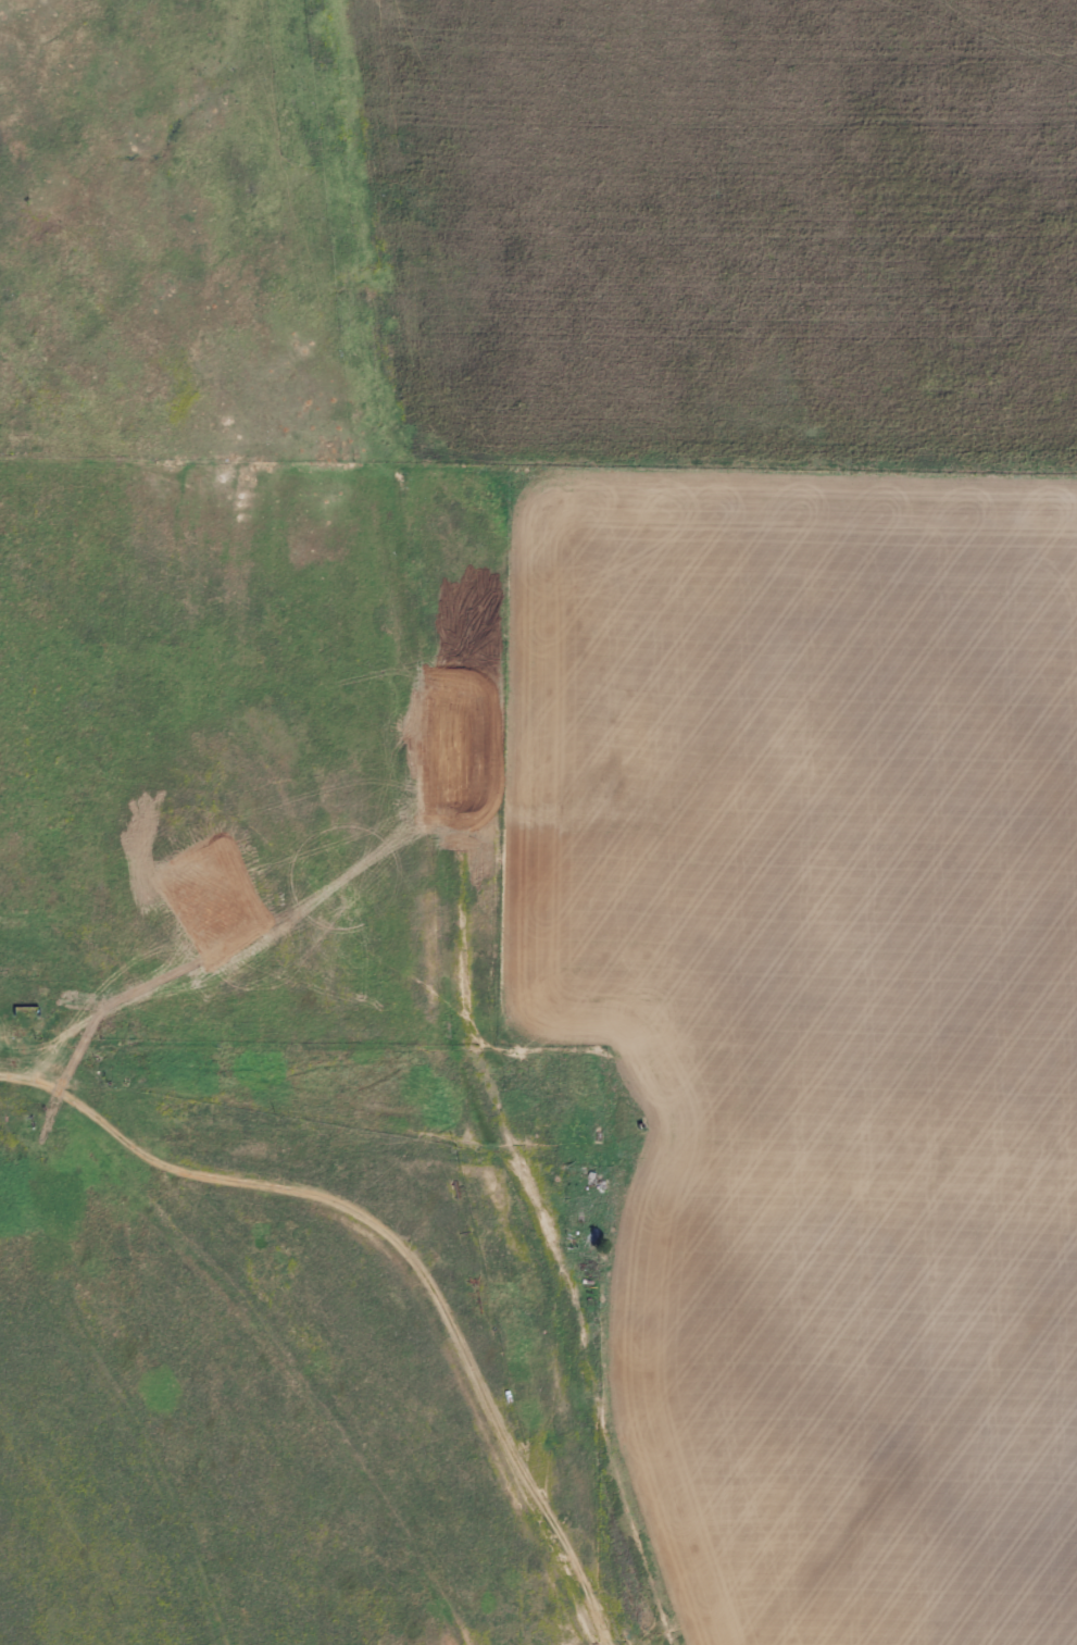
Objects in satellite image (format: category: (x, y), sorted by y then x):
building: (24, 1012)
road: (391, 1251)

